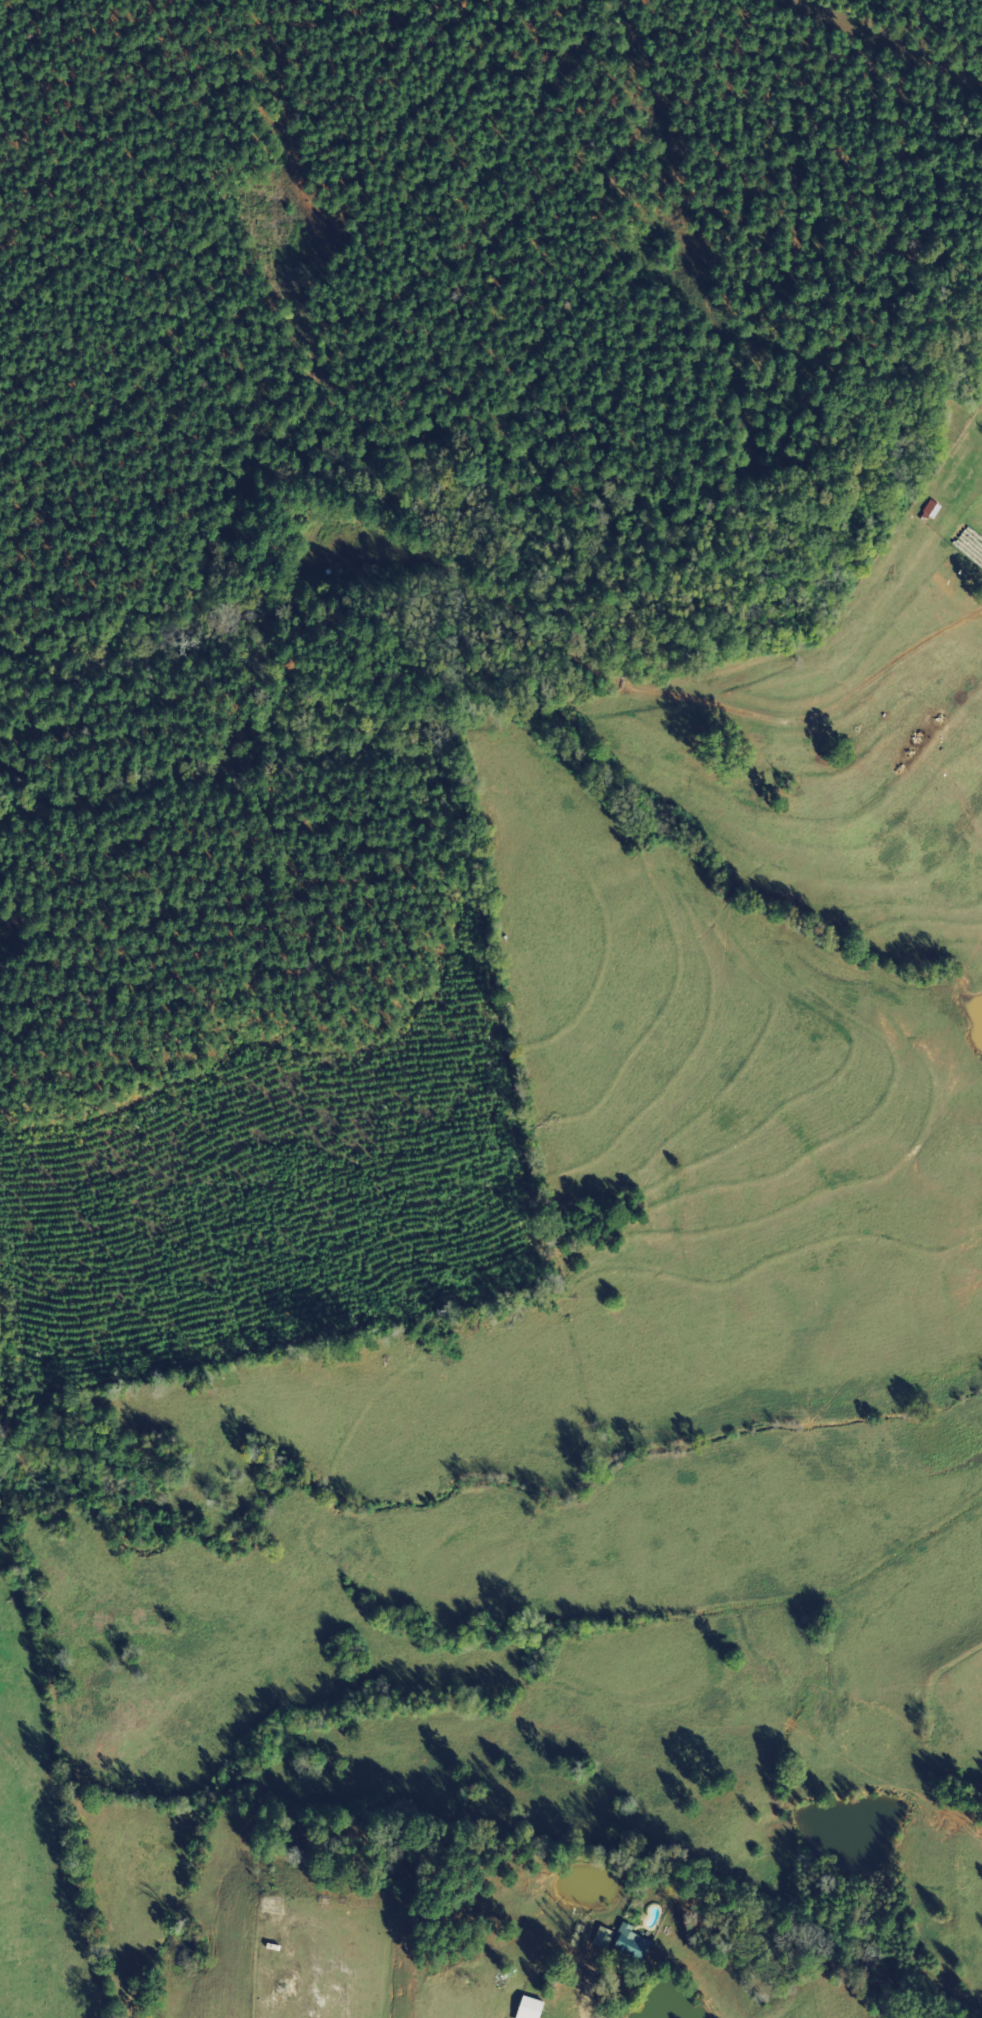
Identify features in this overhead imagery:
building: (935, 510)
building: (634, 1942)
building: (533, 2008)

